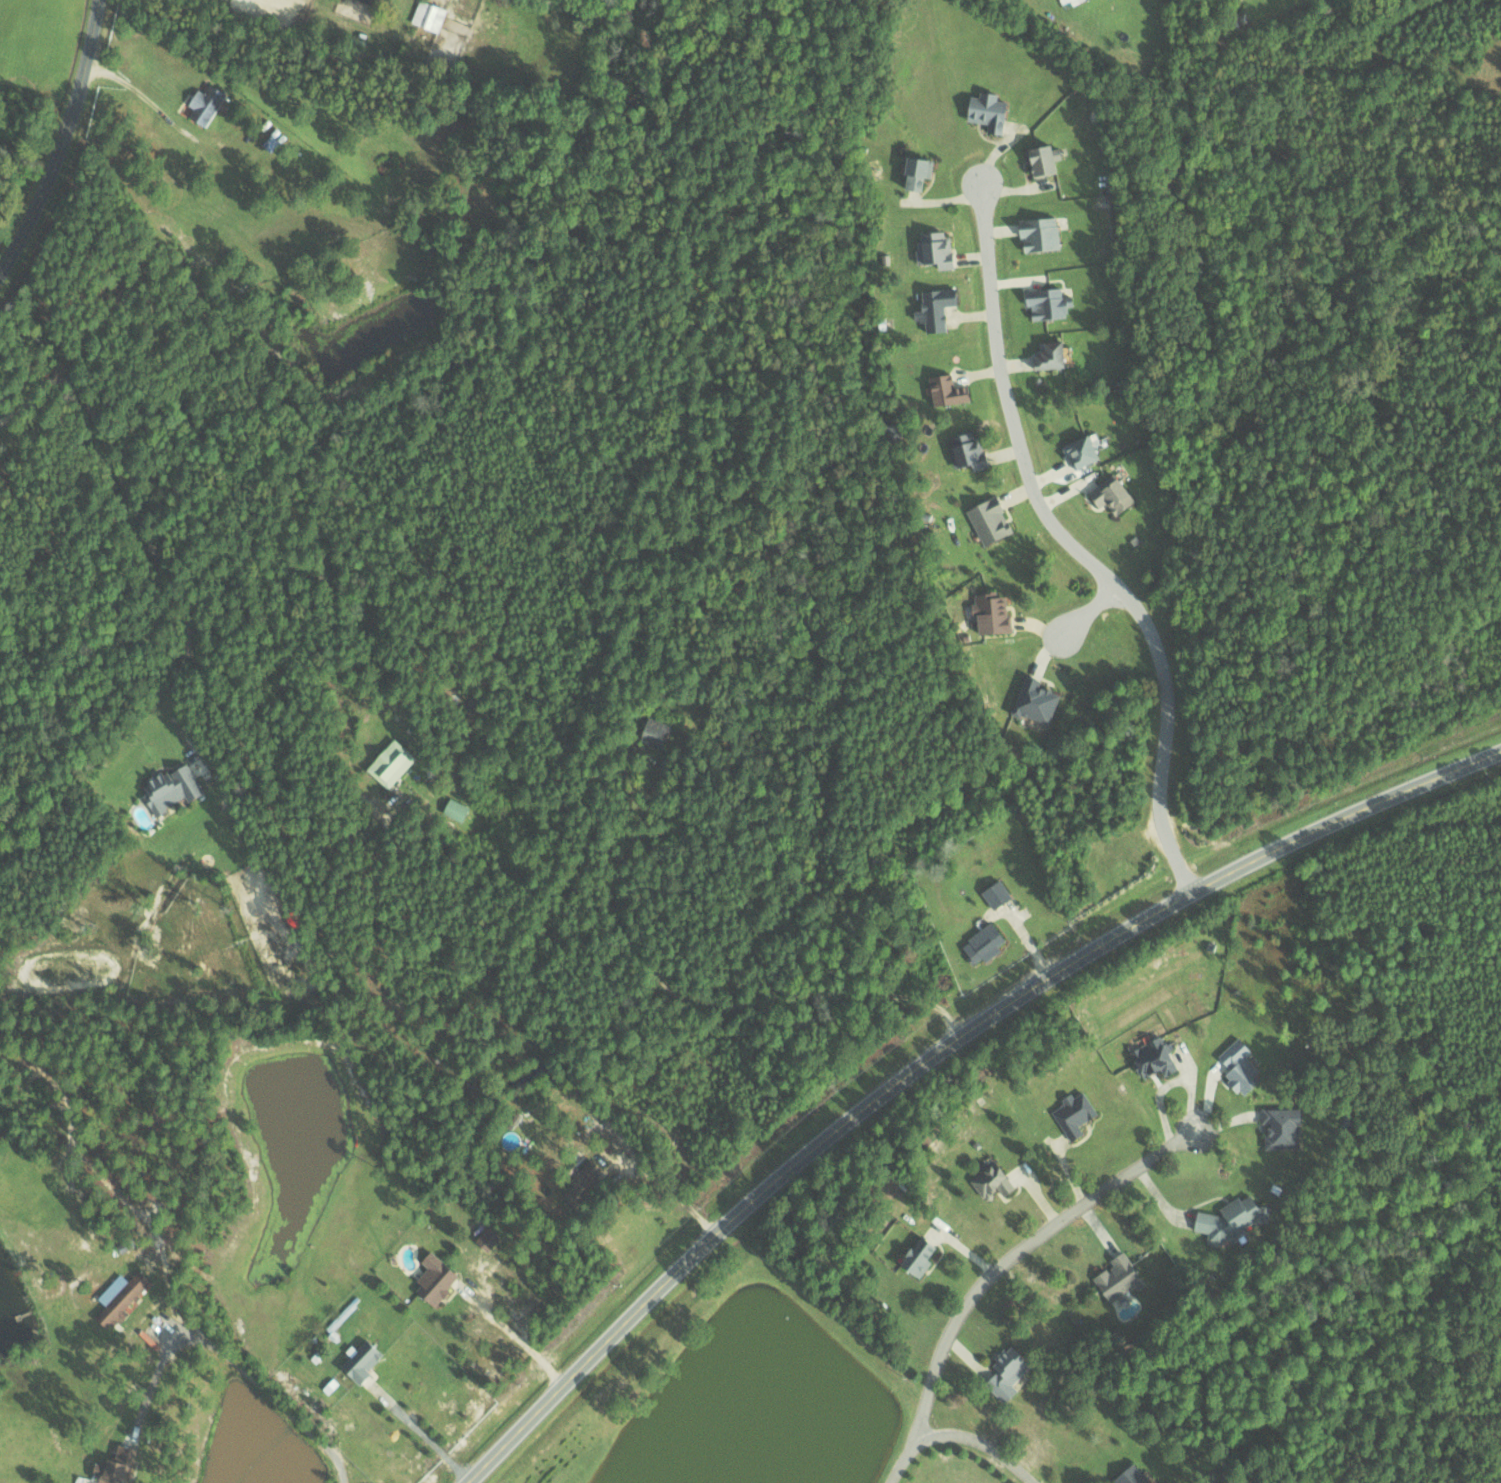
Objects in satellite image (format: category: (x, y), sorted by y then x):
building: (367, 1)
building: (203, 104)
building: (984, 111)
road: (63, 141)
building: (1040, 158)
building: (912, 173)
building: (1036, 233)
building: (933, 249)
building: (1045, 302)
building: (932, 308)
building: (1045, 355)
building: (944, 390)
building: (965, 451)
building: (1077, 451)
building: (1108, 494)
building: (986, 519)
road: (1073, 546)
road: (183, 612)
building: (990, 613)
road: (1087, 613)
building: (1032, 702)
road: (174, 712)
building: (654, 737)
building: (388, 763)
building: (170, 786)
building: (458, 810)
building: (994, 894)
building: (981, 944)
road: (937, 1052)
building: (1152, 1058)
building: (1237, 1067)
building: (1072, 1114)
building: (1279, 1128)
building: (989, 1181)
building: (578, 1182)
road: (674, 1186)
building: (1230, 1220)
building: (485, 1238)
building: (915, 1257)
road: (996, 1267)
building: (432, 1278)
building: (1115, 1278)
building: (119, 1296)
road: (517, 1336)
road: (231, 1359)
building: (360, 1360)
building: (1004, 1371)
road: (420, 1432)
road: (980, 1440)
building: (112, 1465)
building: (1126, 1475)

